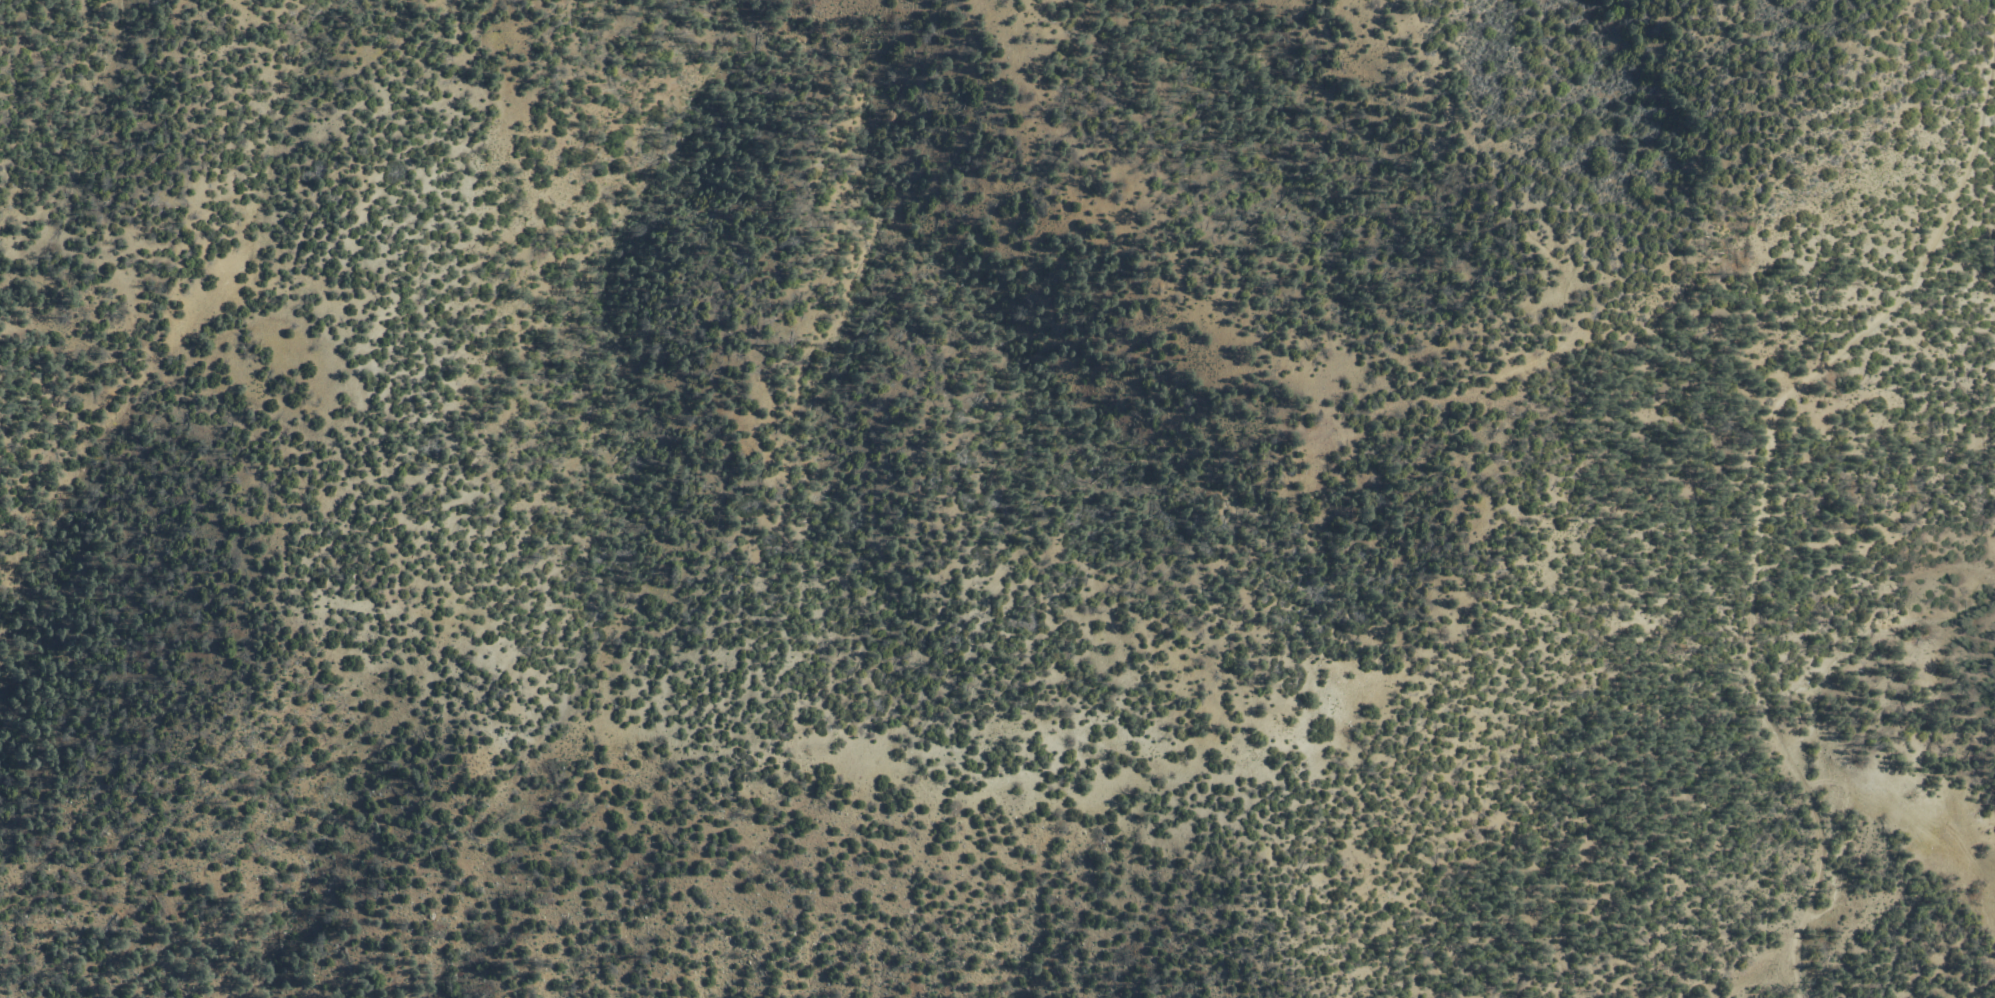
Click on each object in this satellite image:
road: (1764, 487)

